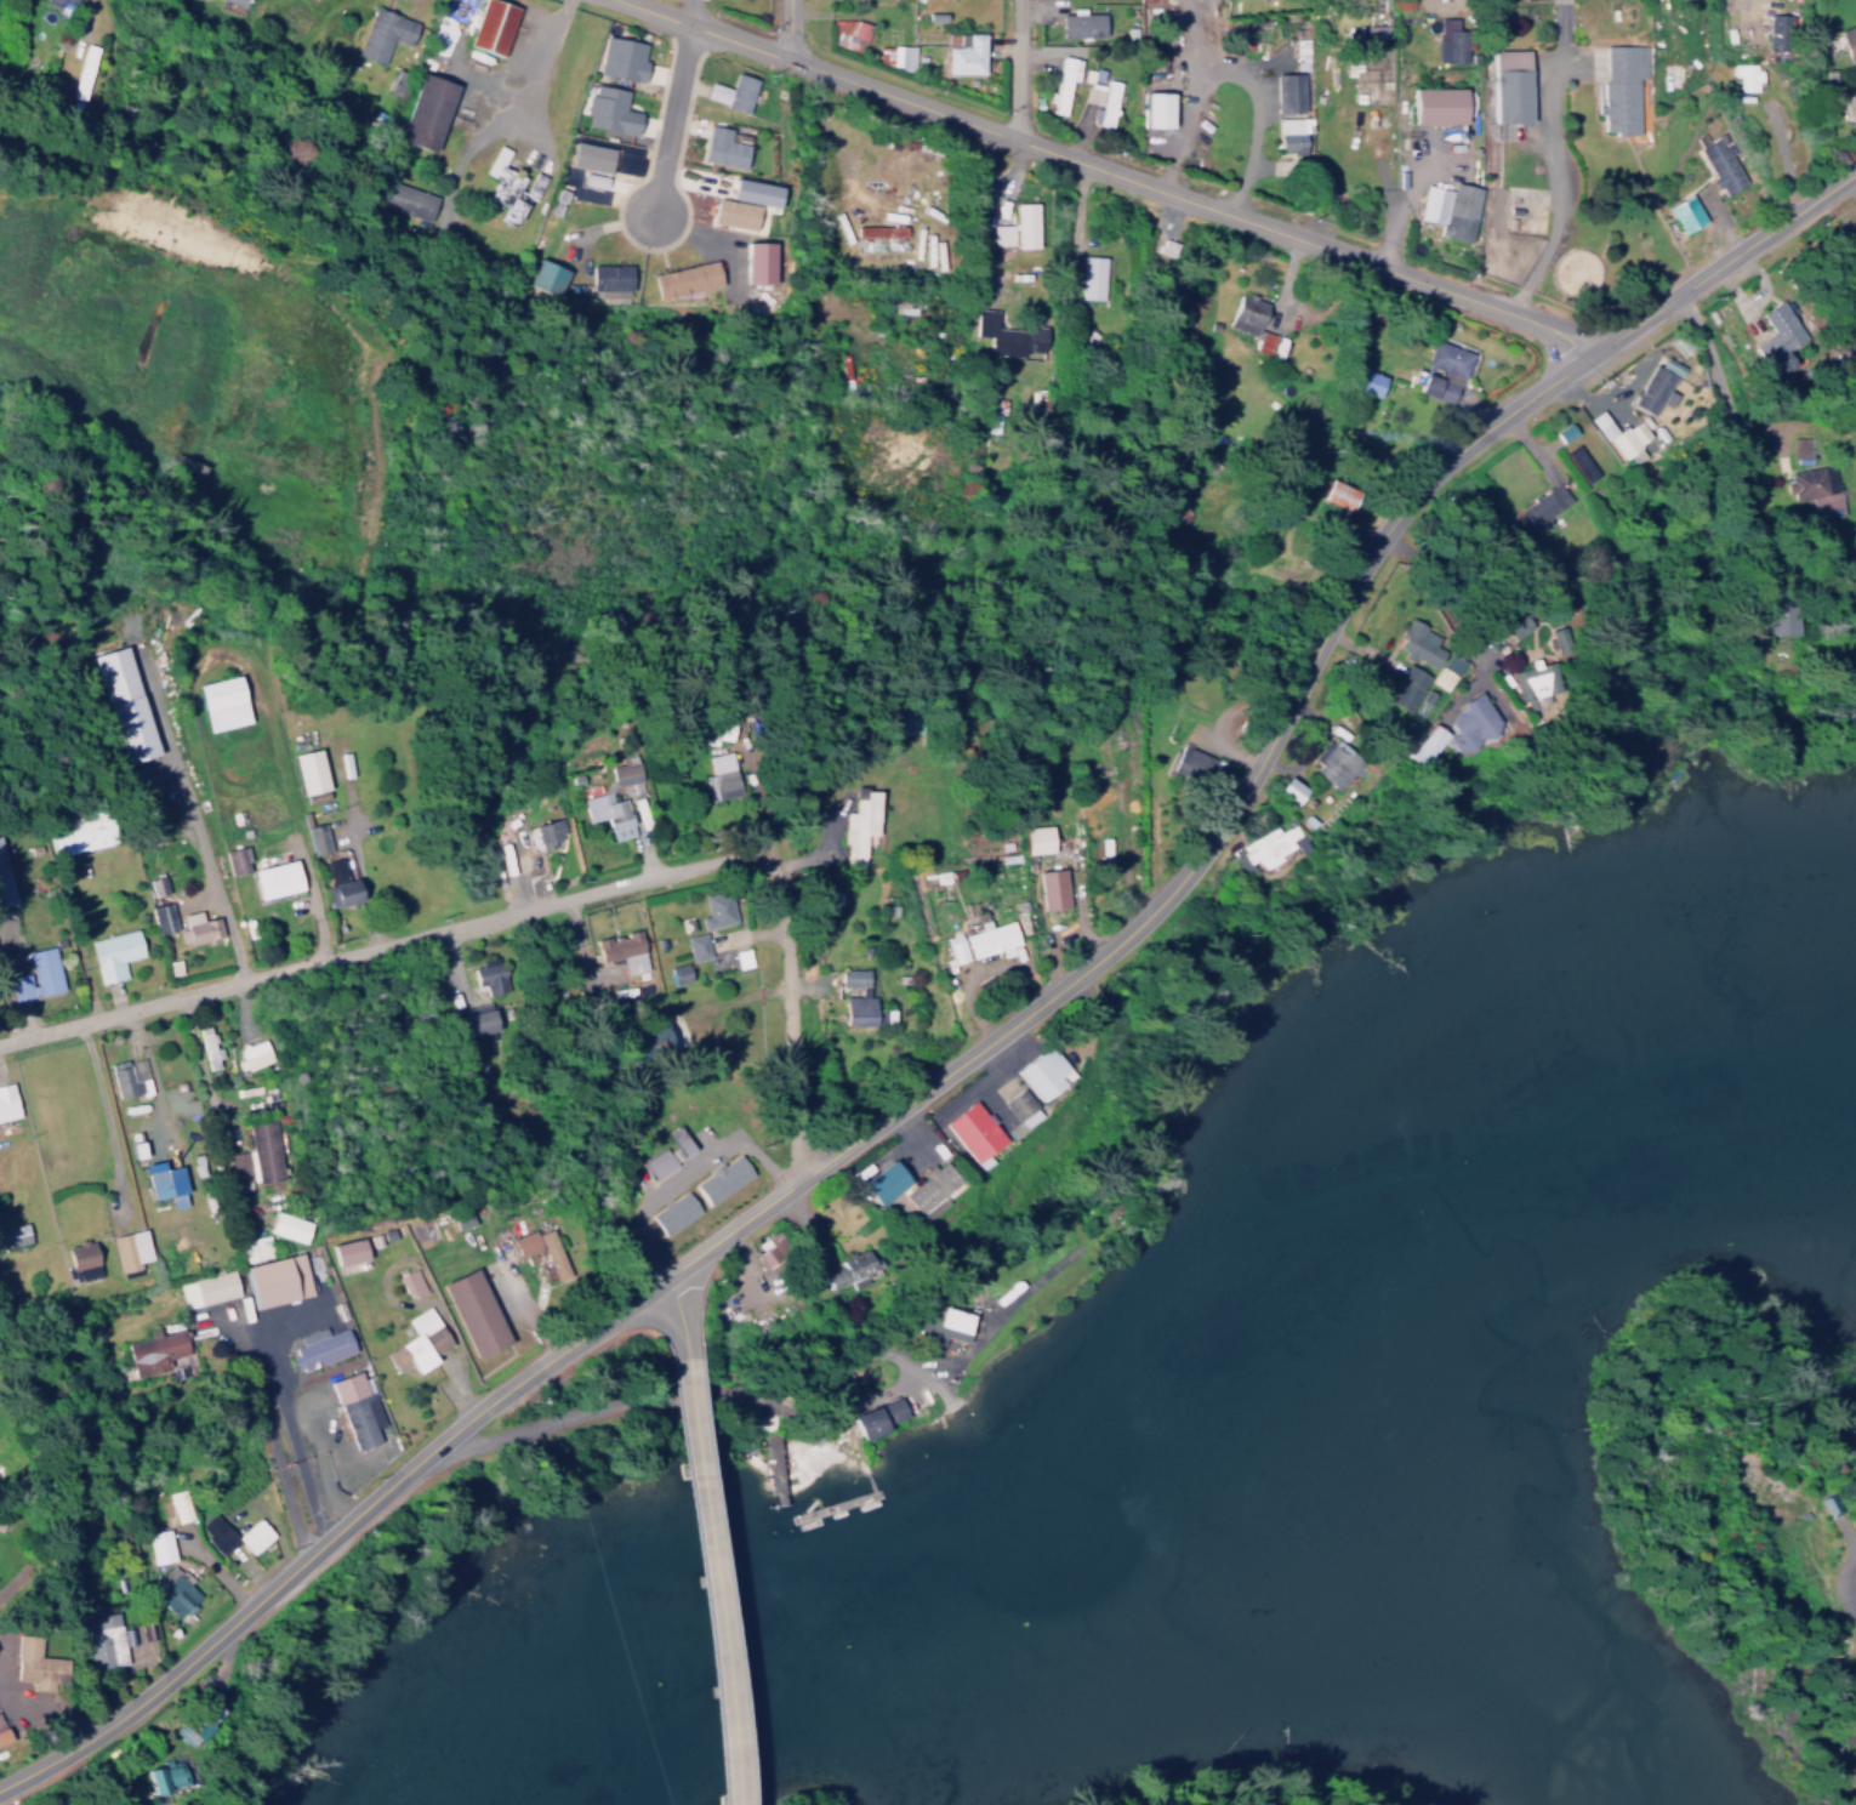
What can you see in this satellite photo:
building: (239, 1)
building: (61, 4)
road: (81, 13)
building: (1080, 18)
building: (491, 23)
building: (1374, 25)
building: (382, 28)
road: (788, 29)
building: (847, 32)
building: (1448, 36)
building: (1849, 40)
building: (1299, 44)
building: (966, 50)
building: (893, 55)
building: (621, 57)
road: (1019, 67)
building: (82, 70)
building: (1743, 75)
building: (1063, 79)
building: (1510, 80)
building: (1621, 82)
building: (1287, 87)
building: (733, 91)
building: (1108, 98)
building: (1436, 99)
building: (1849, 101)
building: (1156, 104)
building: (425, 108)
building: (609, 109)
road: (671, 119)
building: (1292, 130)
building: (725, 147)
building: (1720, 160)
road: (1104, 166)
building: (511, 187)
building: (758, 192)
building: (405, 194)
building: (1444, 209)
building: (1684, 209)
building: (735, 212)
building: (1017, 227)
building: (878, 230)
building: (758, 257)
building: (608, 272)
building: (545, 273)
building: (685, 273)
building: (1091, 277)
building: (1243, 320)
building: (1778, 334)
building: (1008, 336)
building: (1435, 371)
building: (1360, 381)
building: (1651, 383)
building: (1560, 431)
building: (1622, 435)
building: (1799, 444)
road: (1743, 466)
building: (1810, 476)
building: (1330, 494)
building: (1541, 502)
building: (1774, 620)
building: (1509, 625)
building: (1412, 644)
building: (1440, 671)
building: (1522, 682)
building: (1400, 688)
building: (224, 702)
building: (126, 704)
building: (1448, 728)
building: (1338, 762)
building: (1199, 767)
building: (311, 771)
building: (622, 773)
building: (1296, 790)
building: (638, 813)
building: (608, 814)
building: (859, 821)
building: (84, 832)
building: (547, 833)
building: (317, 838)
building: (1041, 839)
building: (1269, 845)
building: (234, 861)
building: (4, 878)
building: (277, 879)
building: (341, 884)
building: (1053, 889)
road: (536, 900)
building: (717, 910)
building: (159, 913)
building: (696, 946)
building: (620, 951)
building: (955, 951)
building: (113, 953)
building: (741, 958)
building: (678, 974)
building: (36, 975)
building: (486, 976)
building: (855, 998)
road: (991, 1034)
building: (205, 1046)
building: (251, 1054)
road: (203, 1066)
building: (1046, 1074)
building: (124, 1081)
building: (7, 1103)
building: (1020, 1108)
road: (106, 1109)
building: (975, 1133)
building: (263, 1151)
building: (659, 1162)
building: (237, 1166)
building: (723, 1179)
building: (889, 1181)
building: (165, 1183)
building: (934, 1189)
building: (673, 1212)
building: (289, 1226)
building: (13, 1235)
building: (539, 1246)
building: (130, 1251)
building: (348, 1252)
building: (770, 1254)
building: (82, 1260)
building: (854, 1272)
building: (279, 1280)
building: (410, 1283)
building: (206, 1288)
road: (678, 1310)
building: (476, 1314)
building: (415, 1344)
building: (321, 1346)
building: (155, 1351)
building: (357, 1408)
building: (892, 1419)
building: (178, 1505)
building: (216, 1533)
building: (254, 1534)
building: (159, 1547)
road: (706, 1576)
building: (171, 1590)
building: (106, 1640)
building: (36, 1666)
building: (1, 1737)
building: (167, 1778)

